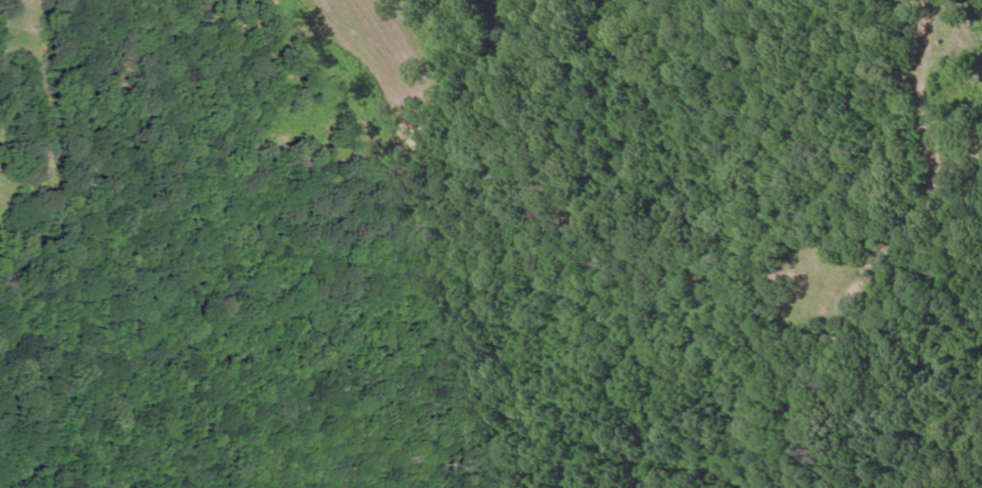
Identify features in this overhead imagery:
road: (9, 28)

